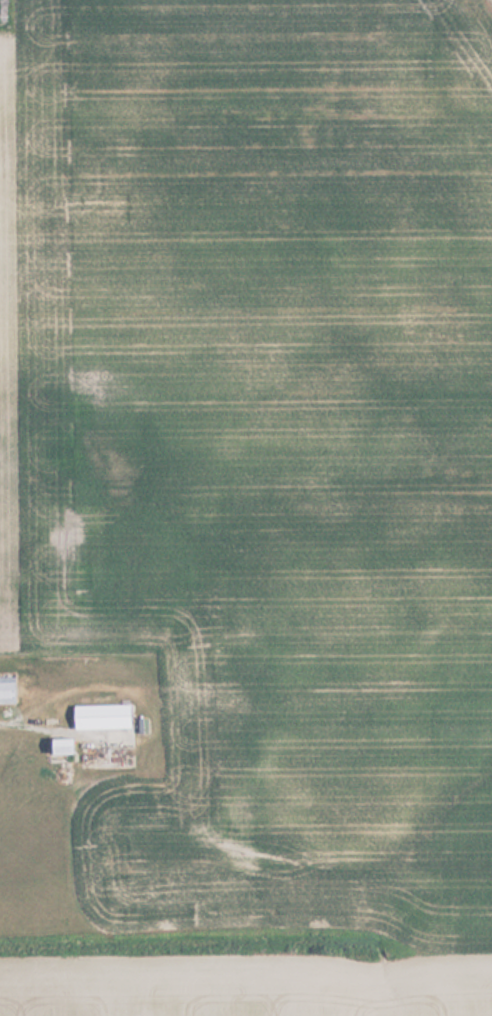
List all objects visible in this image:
building: (7, 691)
building: (100, 717)
building: (57, 747)

